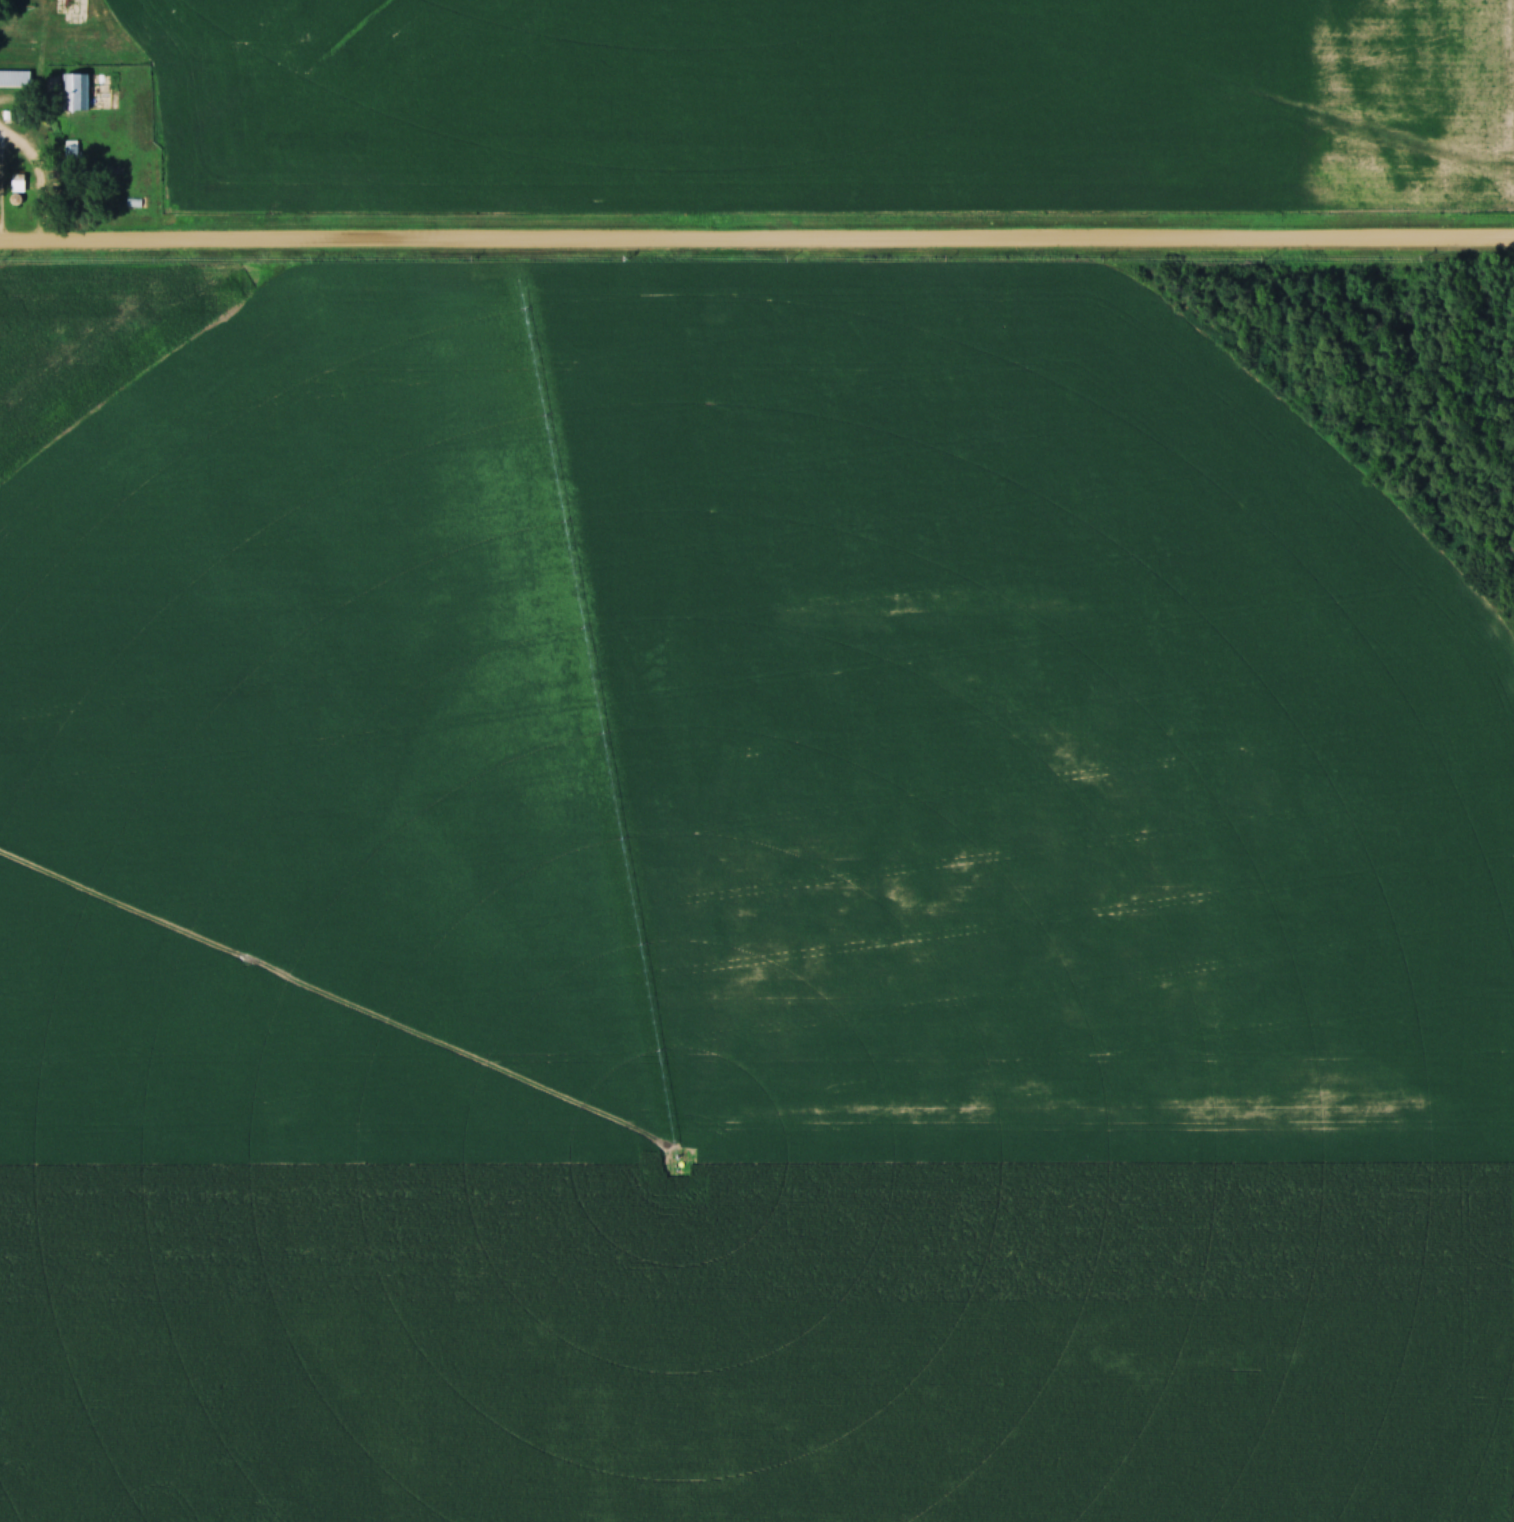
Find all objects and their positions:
building: (15, 77)
building: (77, 93)
building: (72, 151)
road: (33, 181)
building: (18, 183)
road: (756, 243)

